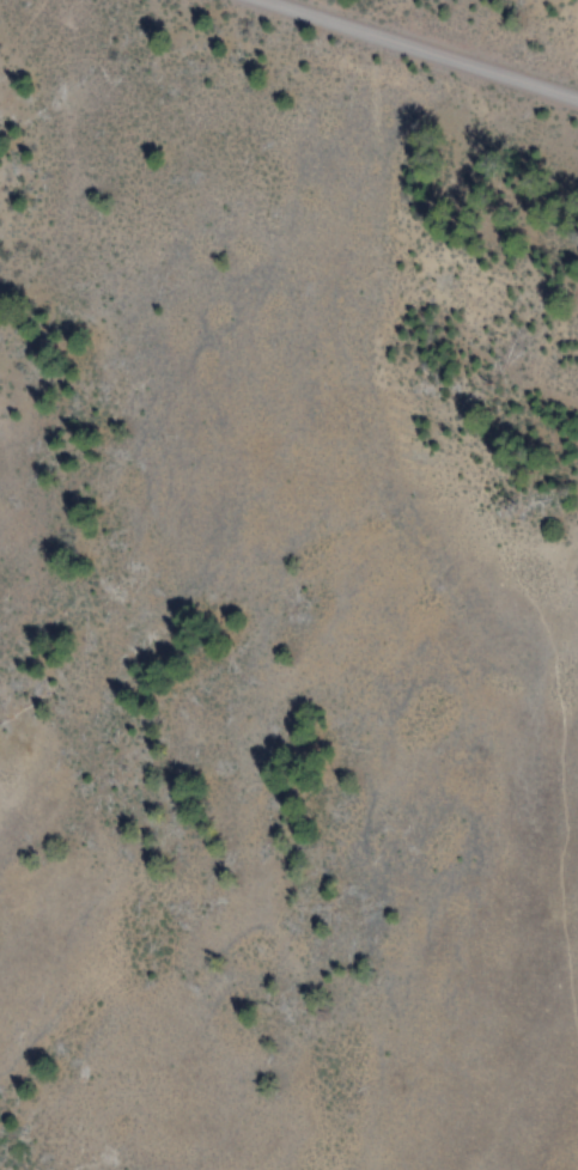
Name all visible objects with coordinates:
road: (421, 48)

